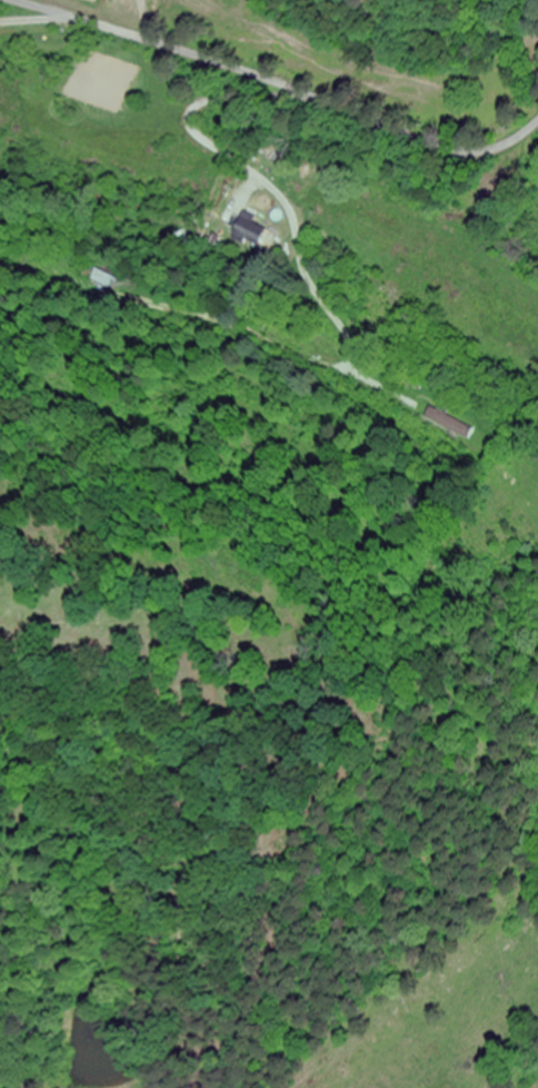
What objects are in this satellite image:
road: (281, 85)
road: (260, 179)
building: (112, 280)

